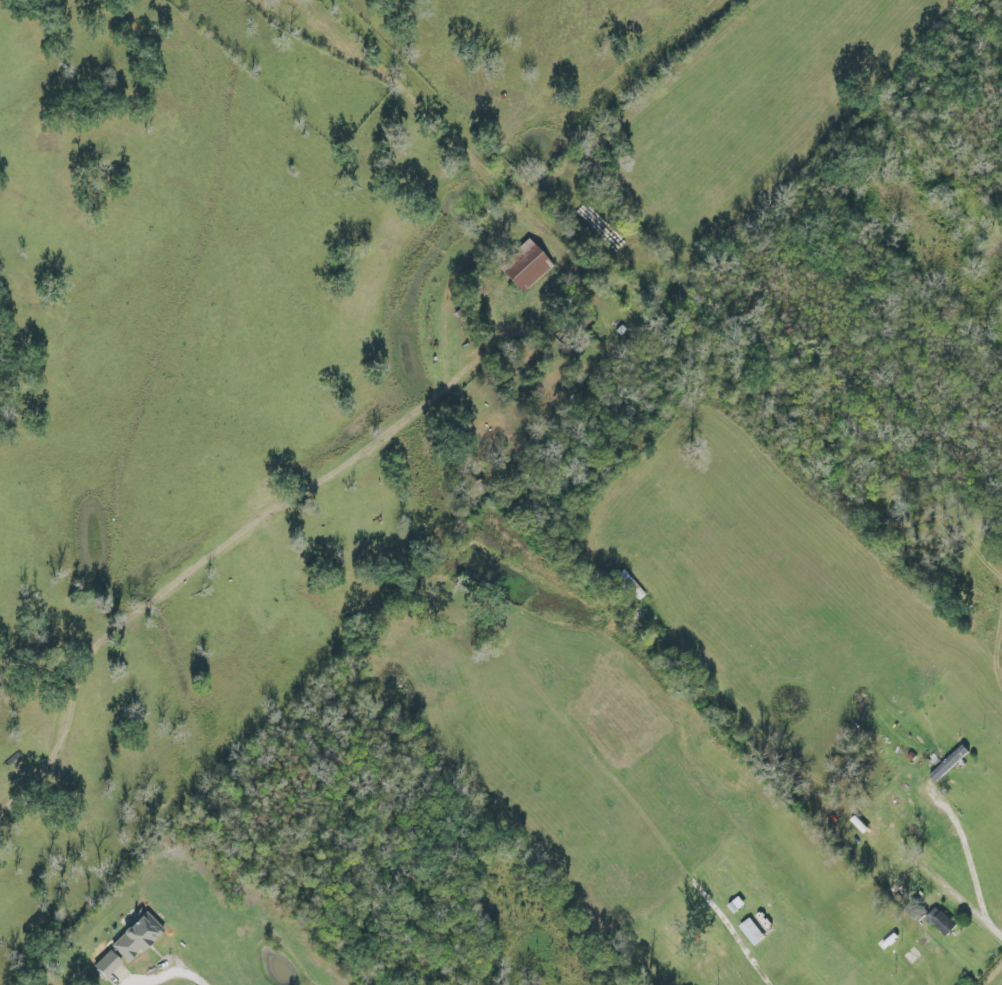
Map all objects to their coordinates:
building: (526, 270)
building: (948, 766)
building: (893, 805)
road: (971, 858)
building: (940, 924)
building: (756, 929)
building: (125, 947)
road: (190, 977)

